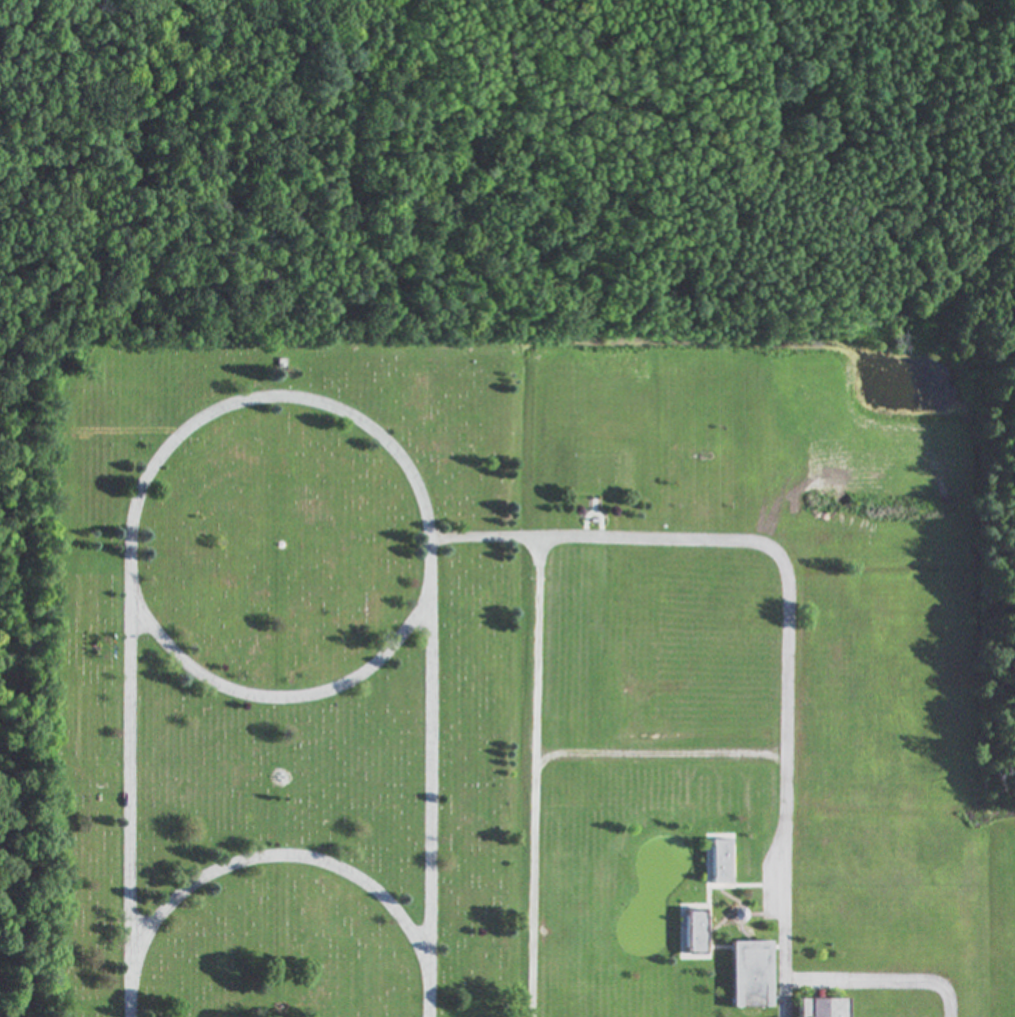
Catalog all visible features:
road: (423, 505)
road: (780, 560)
park: (383, 648)
road: (533, 776)
road: (128, 777)
road: (428, 781)
road: (278, 855)
building: (713, 863)
building: (688, 933)
building: (744, 975)
building: (816, 1008)

